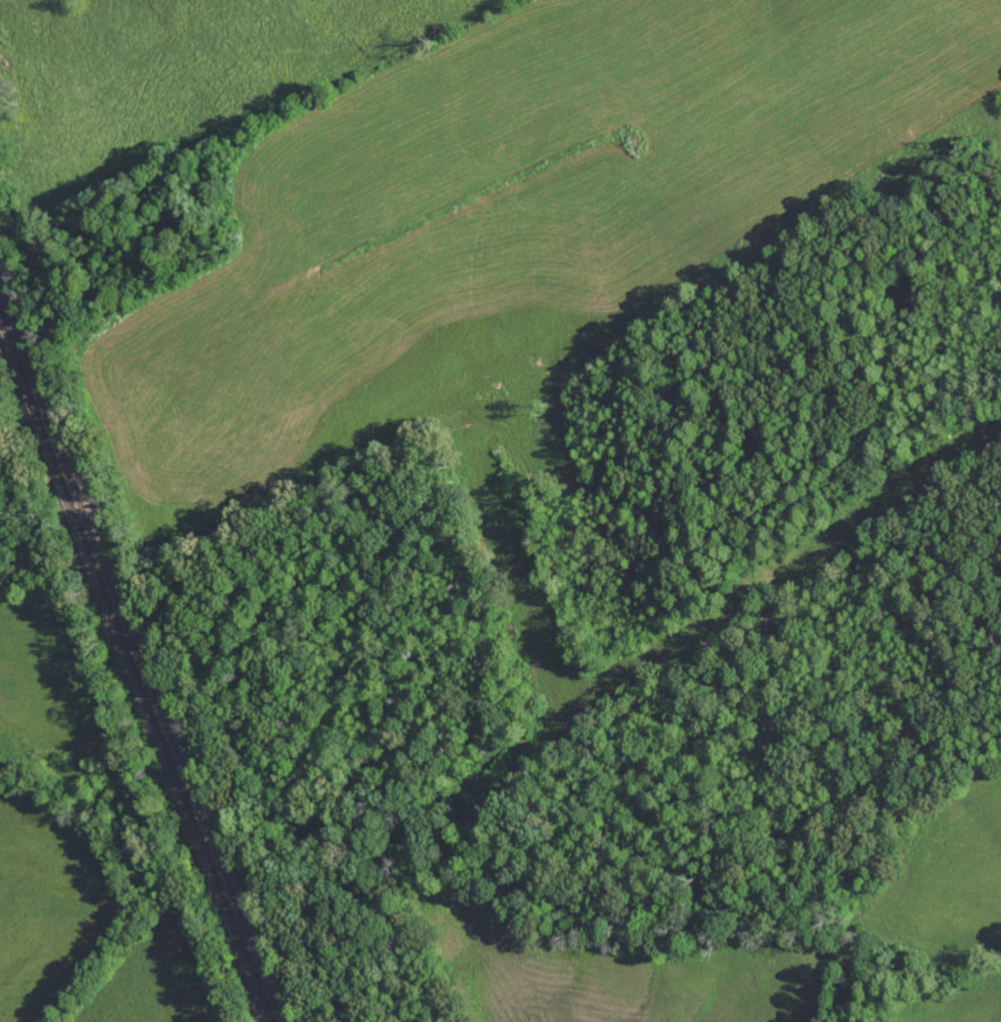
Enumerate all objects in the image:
railway: (138, 651)
railway: (135, 665)

